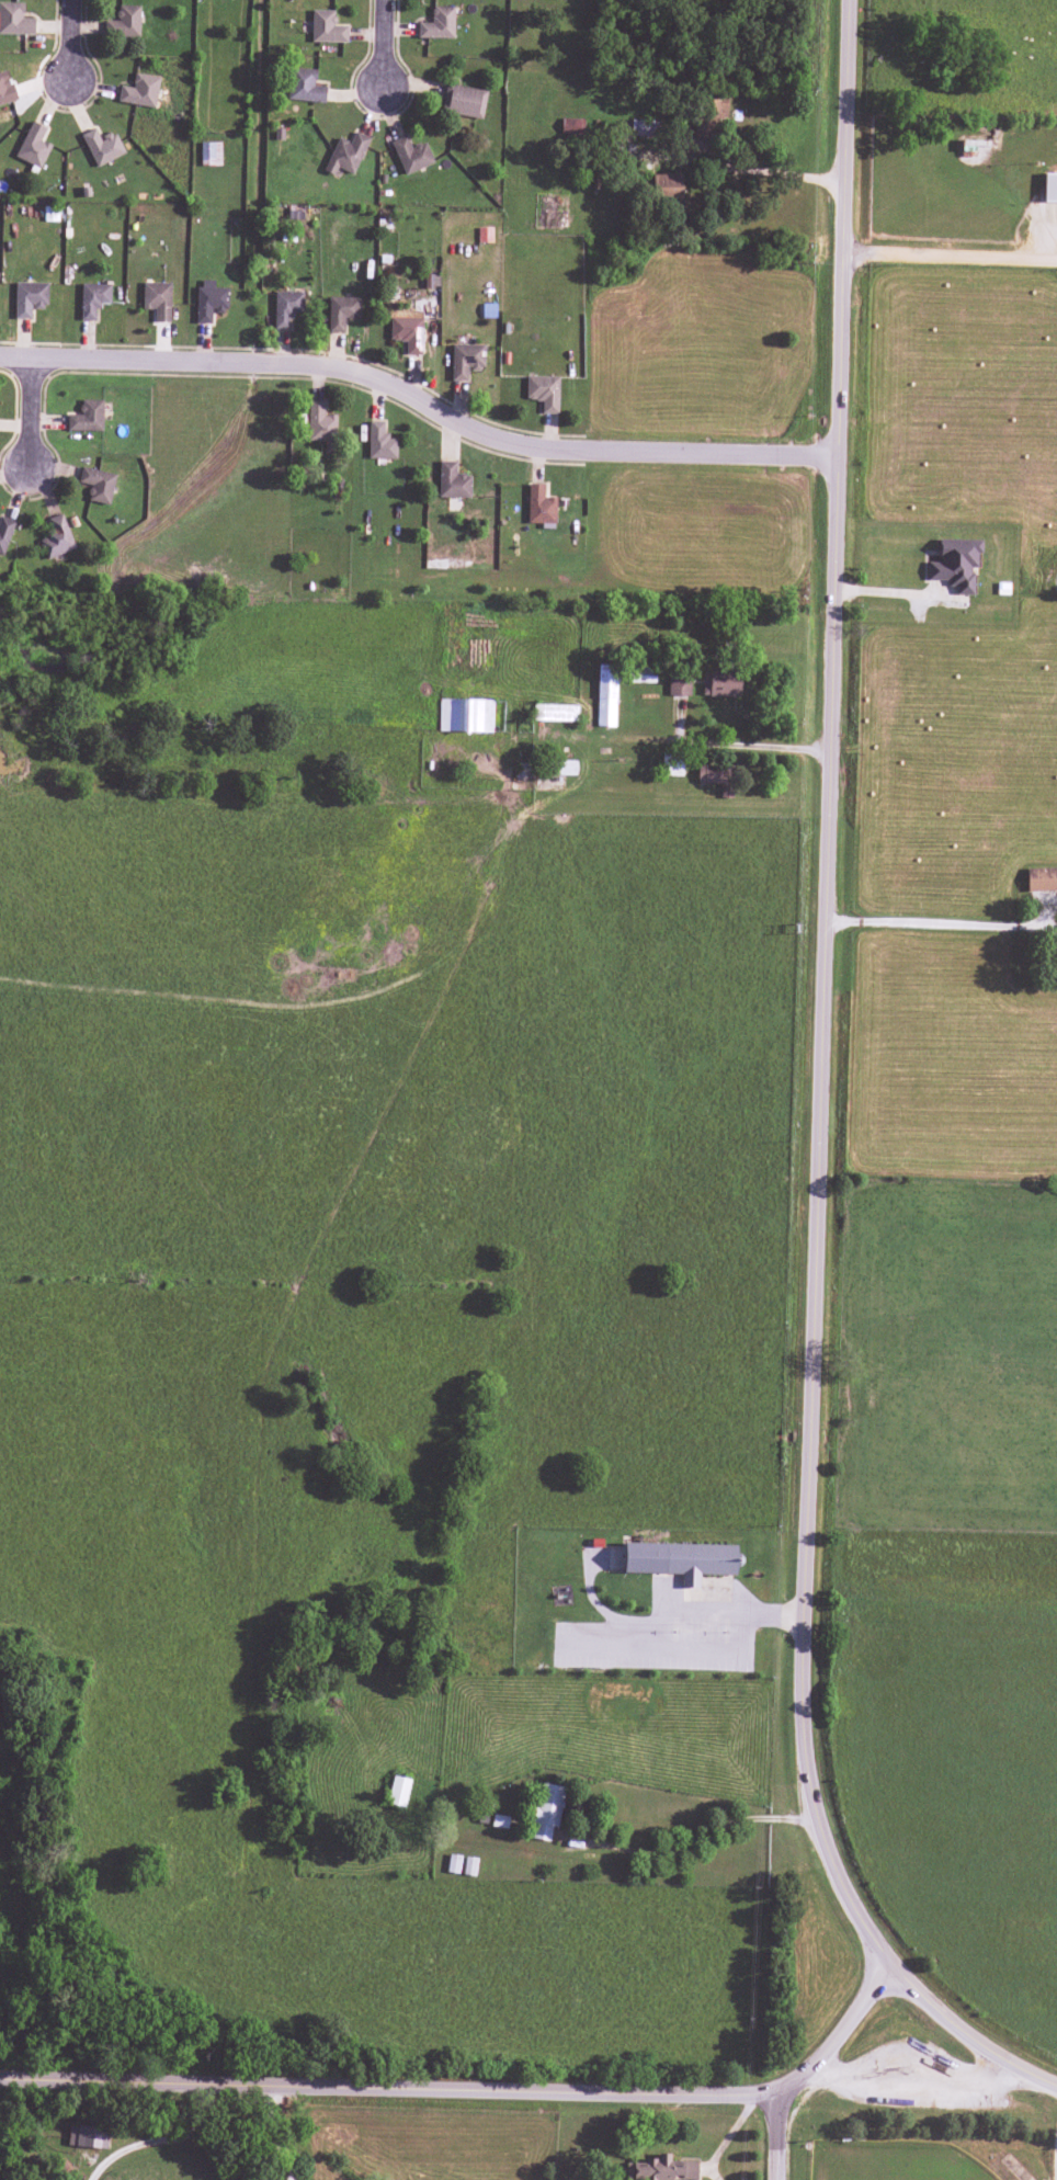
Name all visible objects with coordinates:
building: (14, 20)
building: (123, 22)
building: (437, 24)
building: (326, 27)
road: (73, 41)
road: (387, 42)
building: (304, 86)
building: (5, 89)
building: (139, 91)
building: (463, 101)
building: (717, 110)
building: (33, 146)
building: (101, 147)
building: (209, 154)
building: (345, 155)
building: (411, 155)
building: (666, 185)
building: (1049, 188)
building: (484, 235)
road: (953, 258)
building: (29, 298)
building: (92, 299)
building: (157, 300)
building: (209, 300)
building: (285, 308)
building: (342, 313)
building: (407, 333)
building: (465, 361)
building: (543, 391)
road: (423, 398)
road: (31, 413)
building: (86, 417)
building: (319, 423)
building: (379, 442)
building: (452, 481)
building: (96, 485)
building: (539, 507)
building: (4, 533)
building: (56, 538)
building: (955, 564)
building: (678, 685)
building: (605, 695)
building: (555, 713)
building: (465, 716)
building: (671, 764)
building: (566, 768)
building: (705, 775)
building: (1041, 879)
road: (935, 923)
road: (827, 1095)
building: (680, 1559)
building: (398, 1791)
building: (546, 1810)
building: (453, 1863)
building: (469, 1866)
road: (471, 2089)
road: (270, 2133)
road: (772, 2133)
building: (87, 2136)
road: (156, 2139)
road: (1054, 2150)
park: (889, 2161)
building: (660, 2169)

